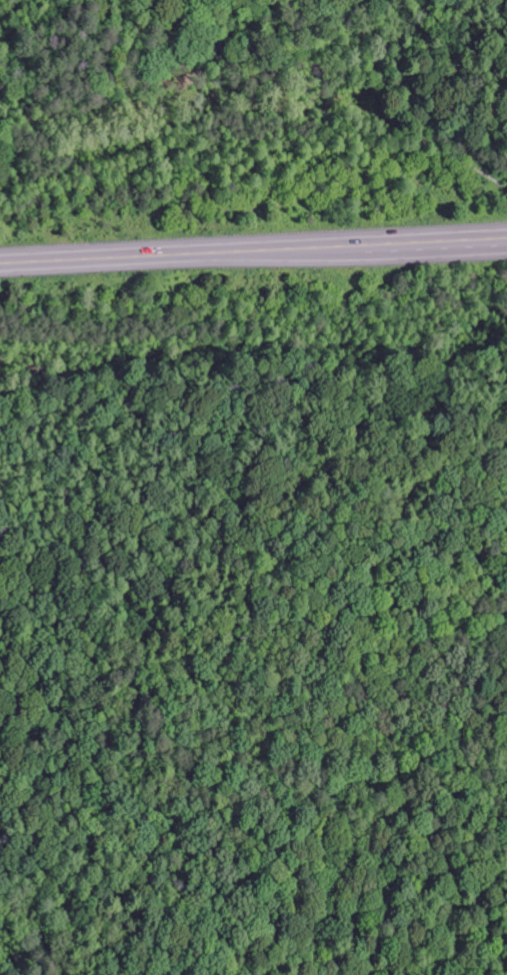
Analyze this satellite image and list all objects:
road: (253, 252)

